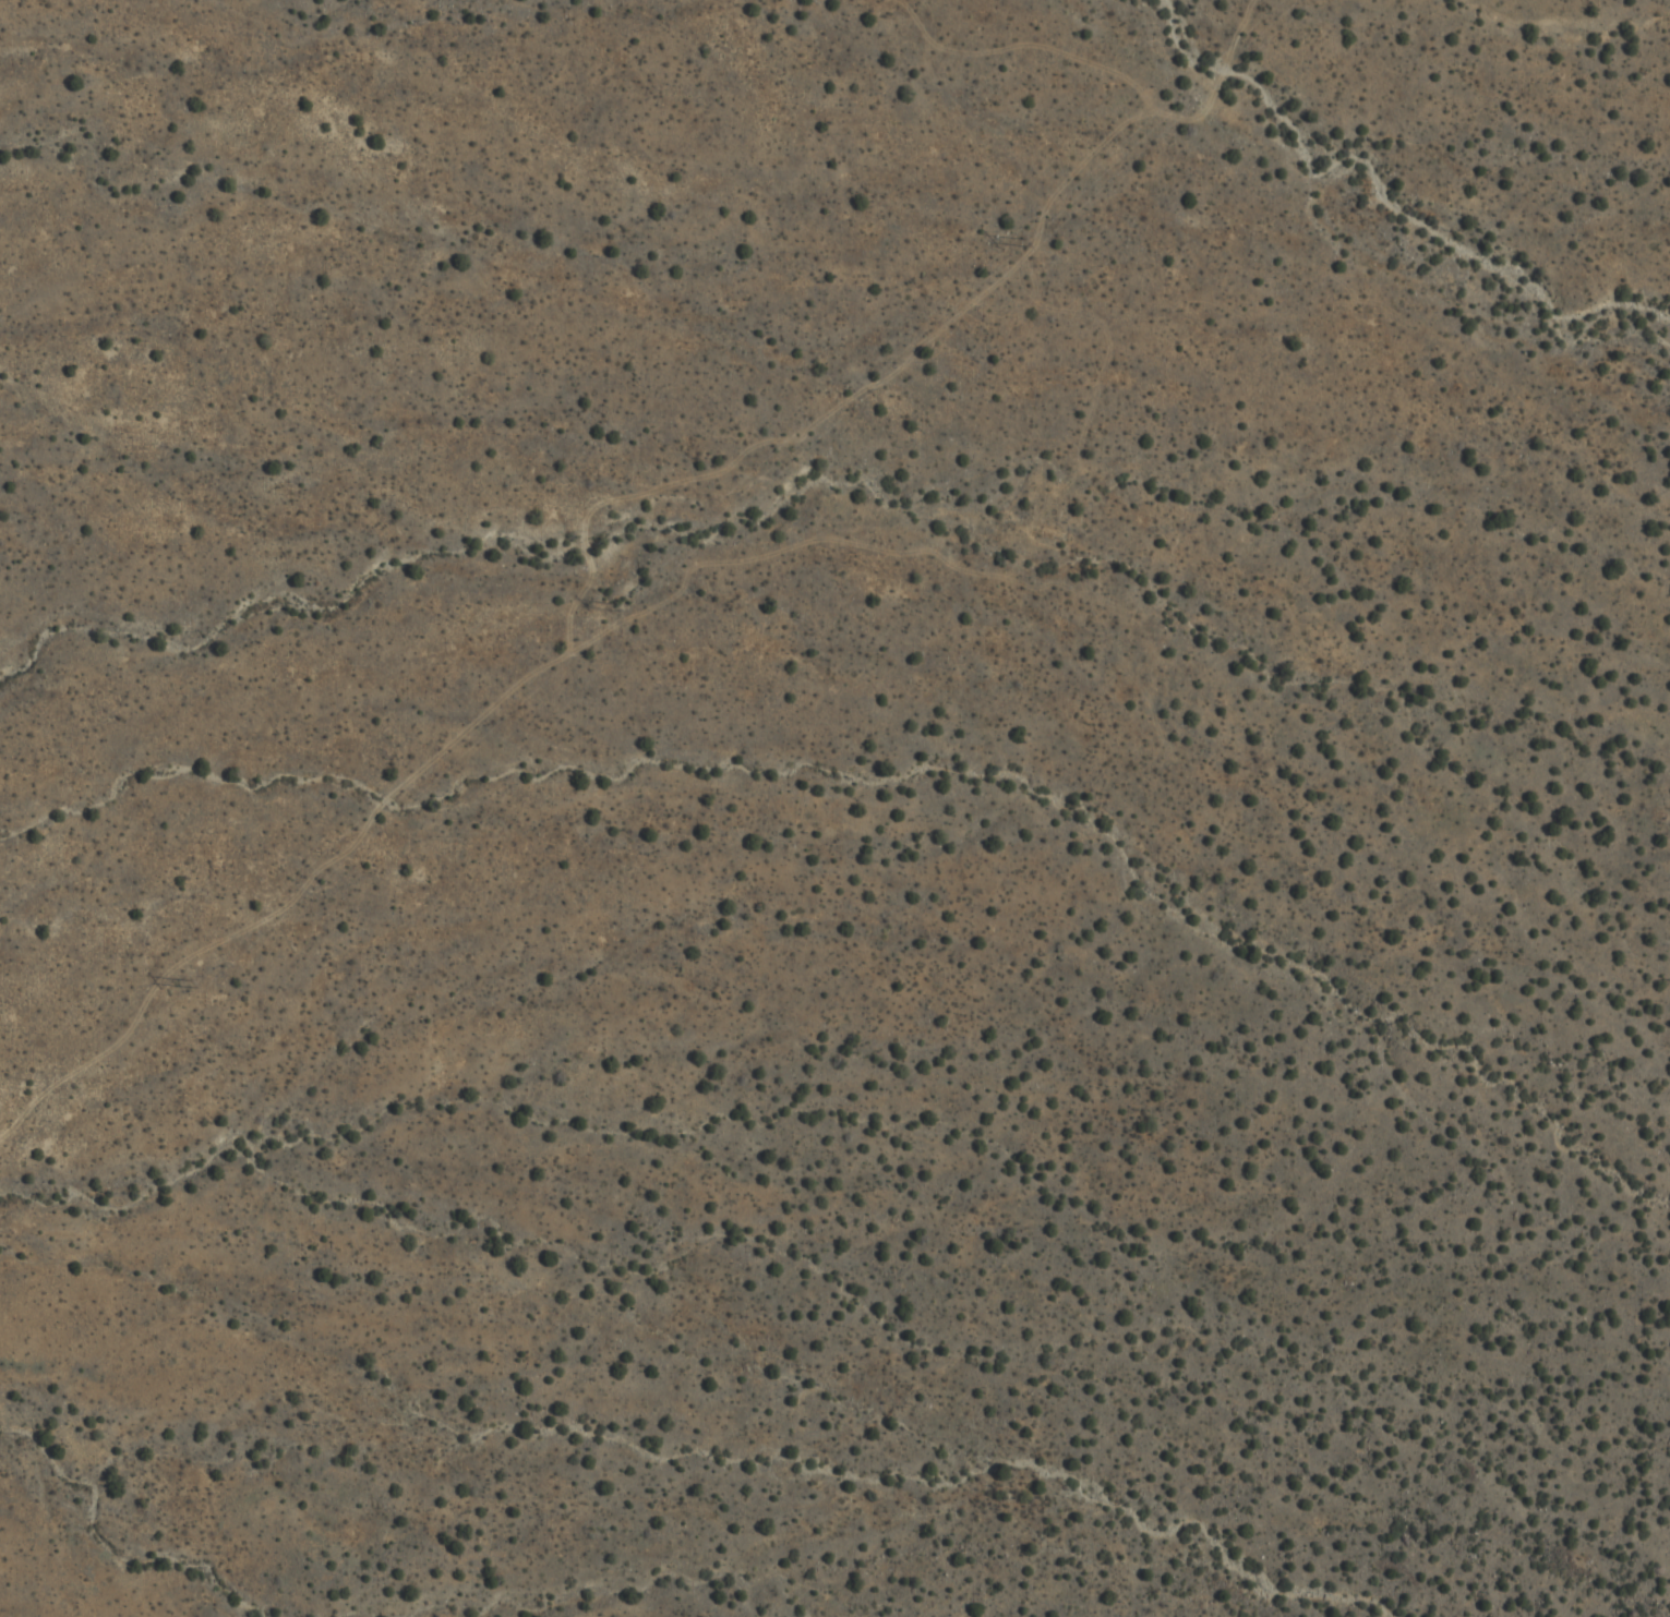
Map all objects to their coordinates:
power tower: (1020, 243)
power tower: (610, 601)
power tower: (187, 980)

